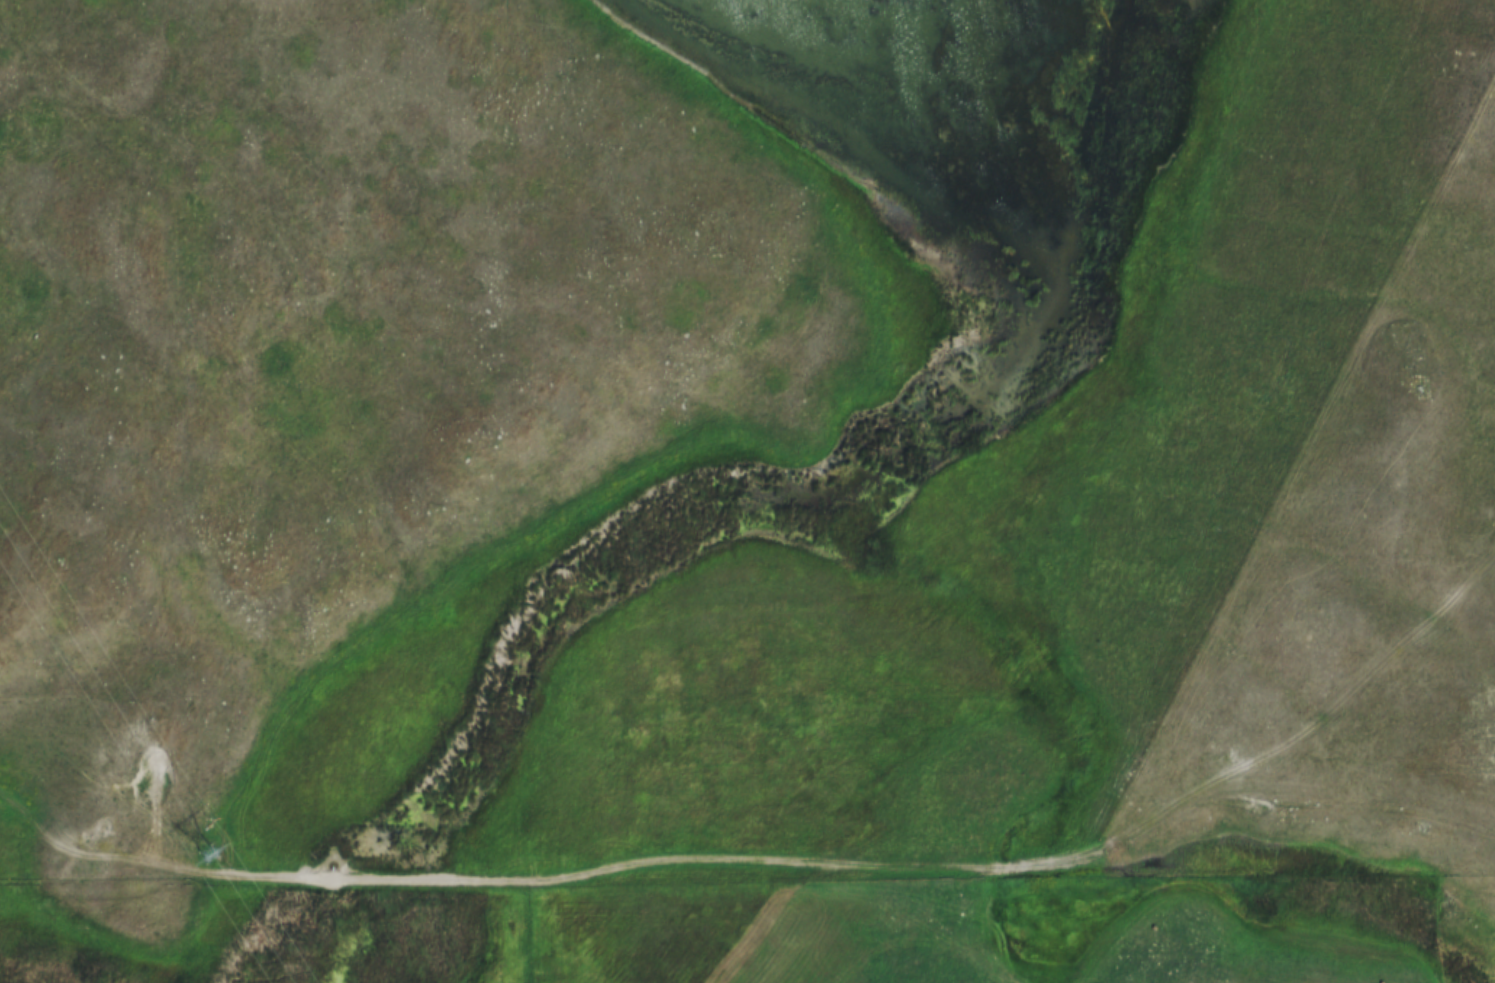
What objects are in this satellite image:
power tower: (213, 859)
road: (747, 874)
crop: (942, 934)

